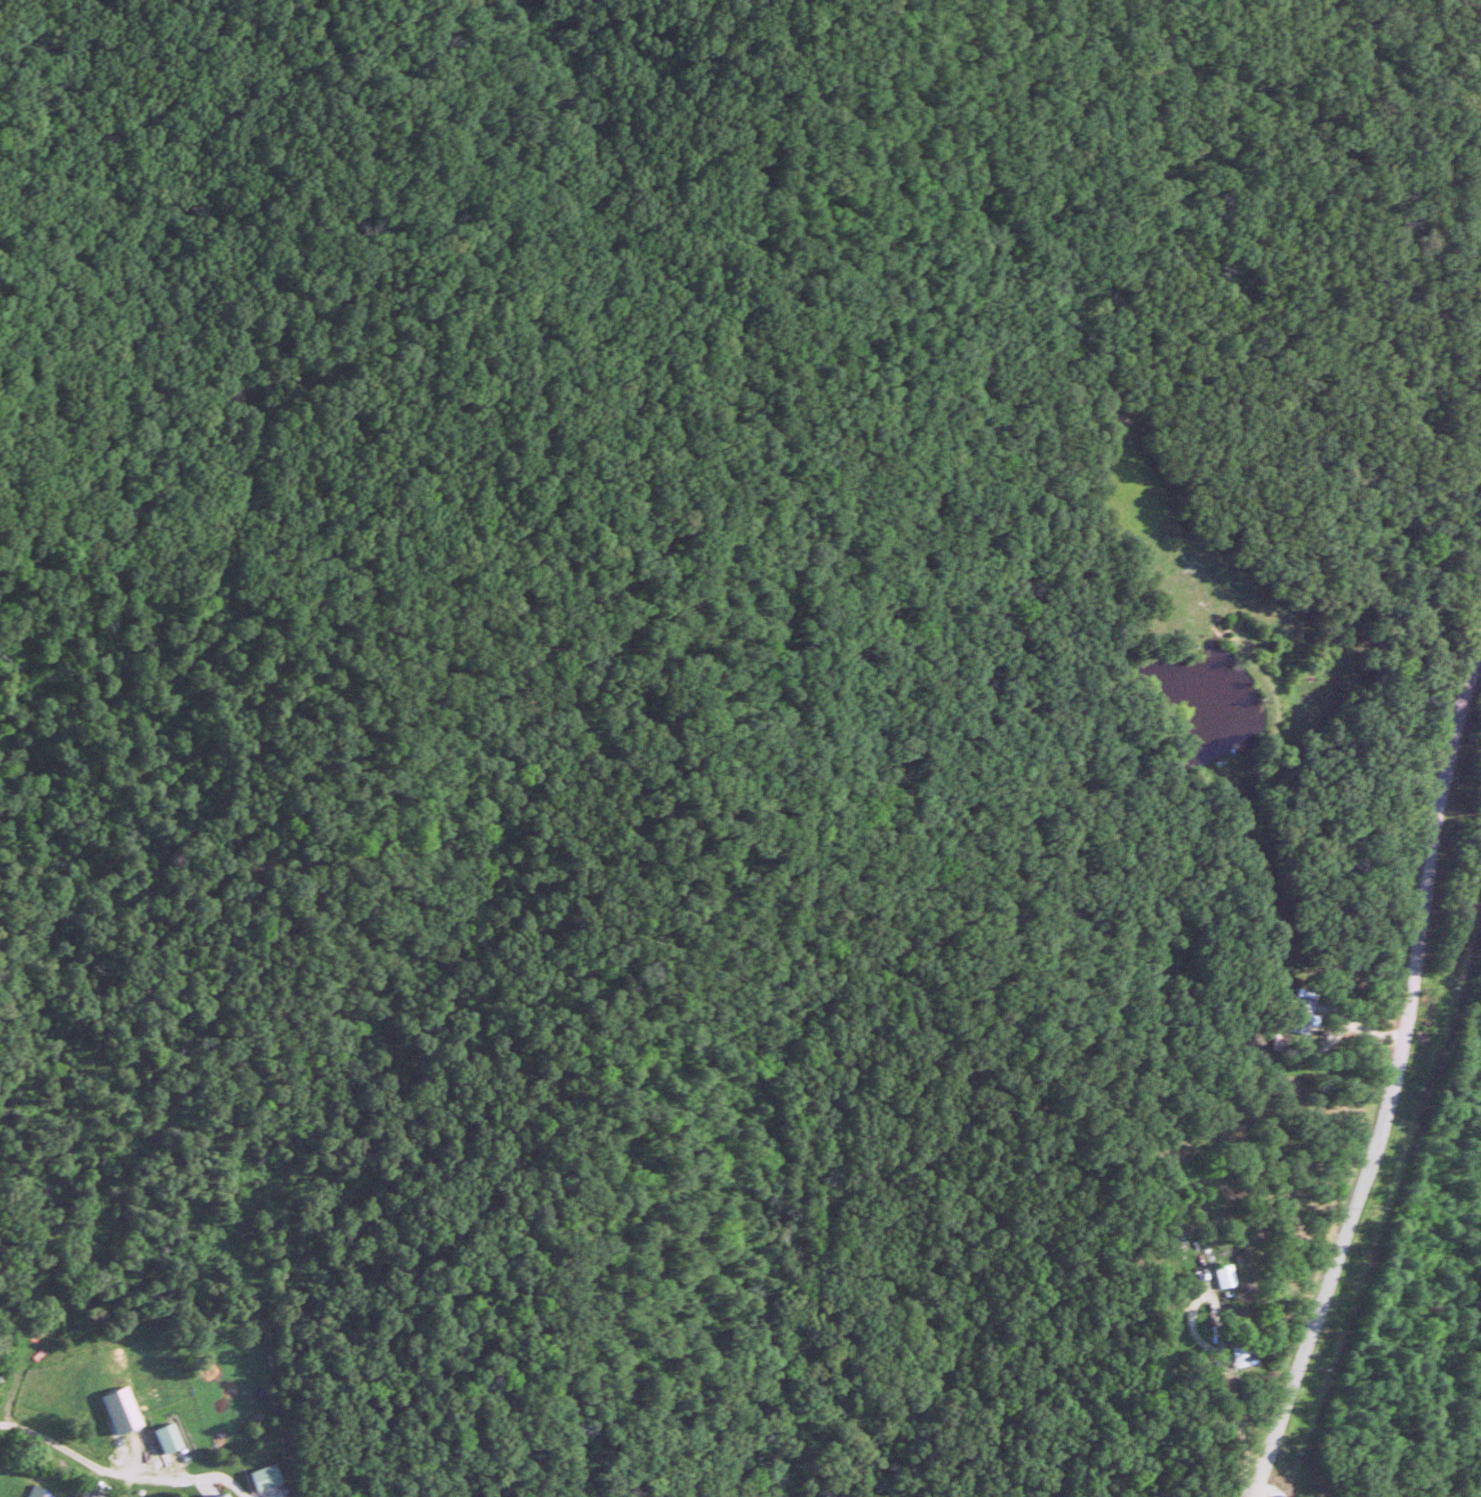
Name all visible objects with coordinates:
road: (1476, 672)
building: (1298, 1014)
road: (1400, 1076)
building: (1215, 1277)
building: (166, 1439)
road: (118, 1475)
building: (263, 1478)

